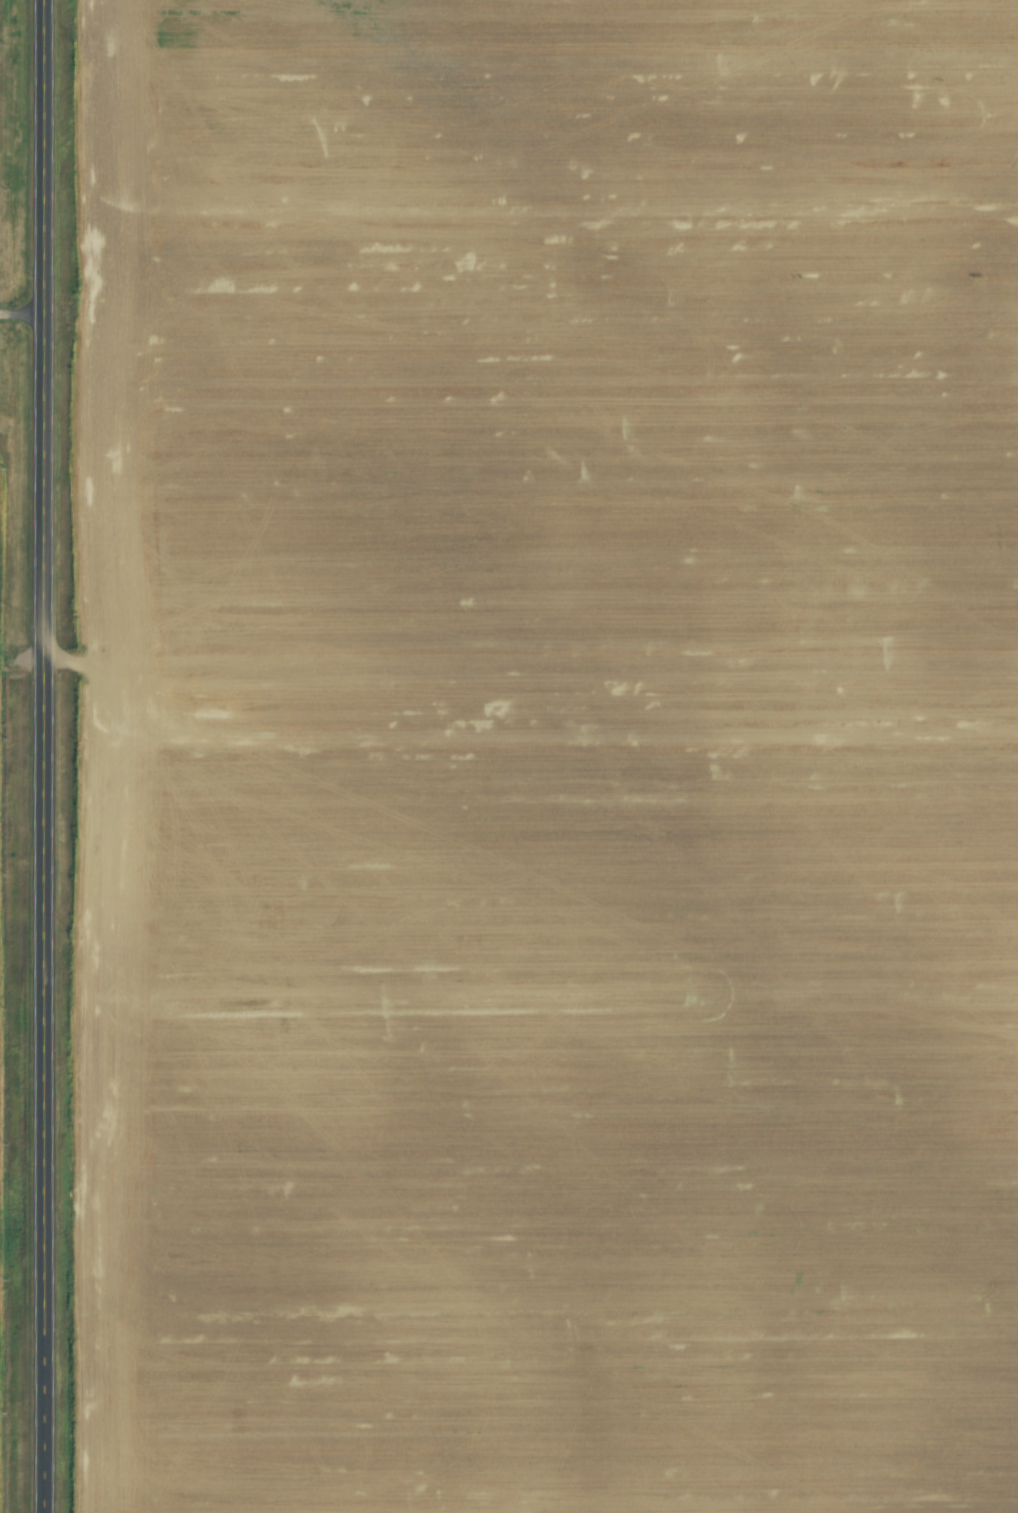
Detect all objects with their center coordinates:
road: (25, 310)
road: (50, 756)

